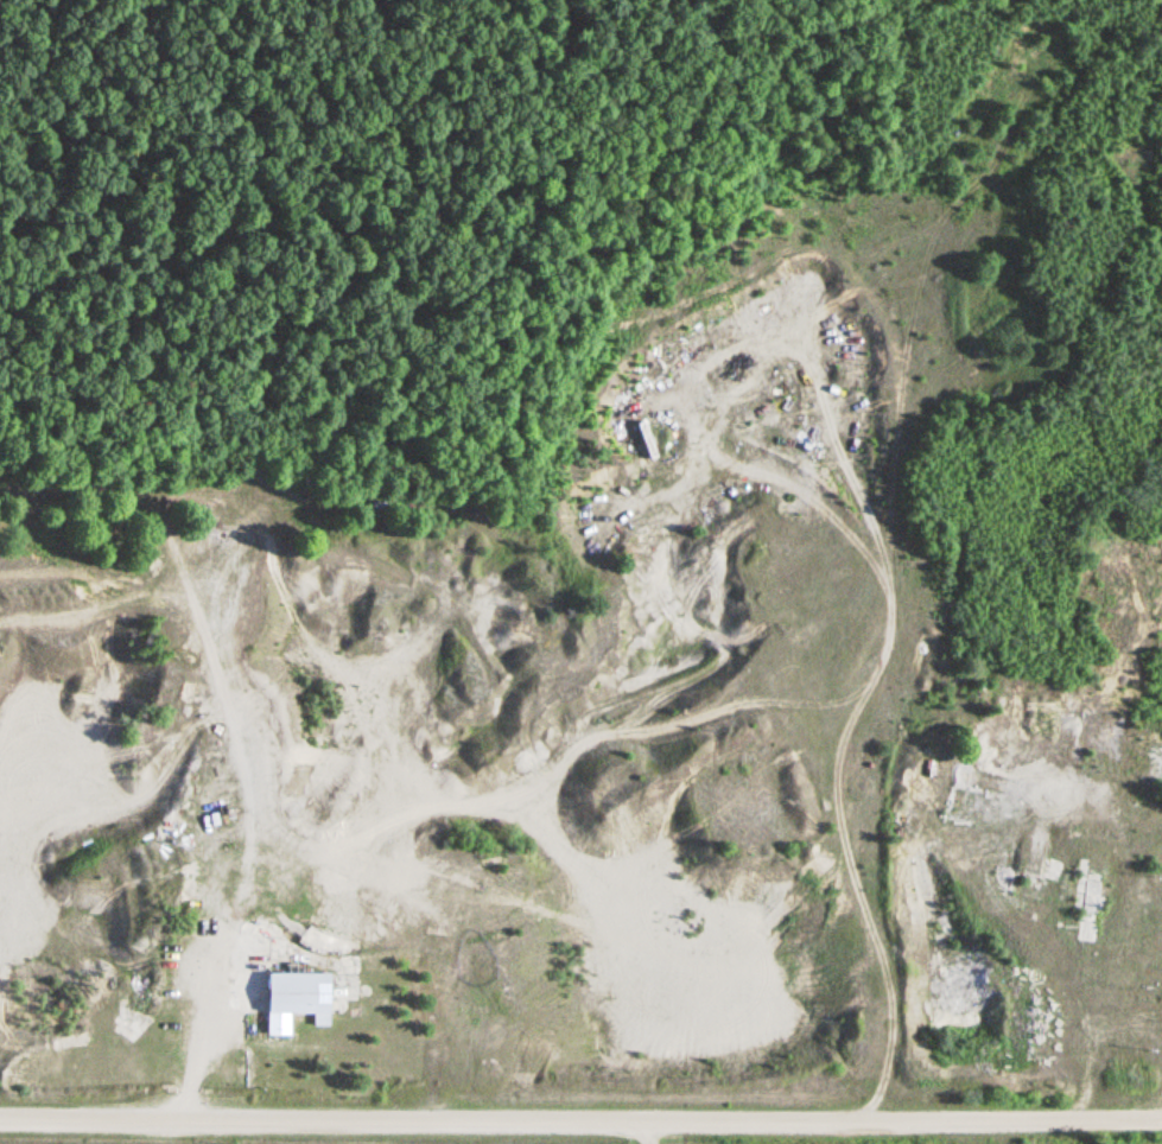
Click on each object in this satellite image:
quarry: (450, 557)
road: (837, 790)
road: (303, 840)
building: (294, 1000)
road: (580, 1120)

